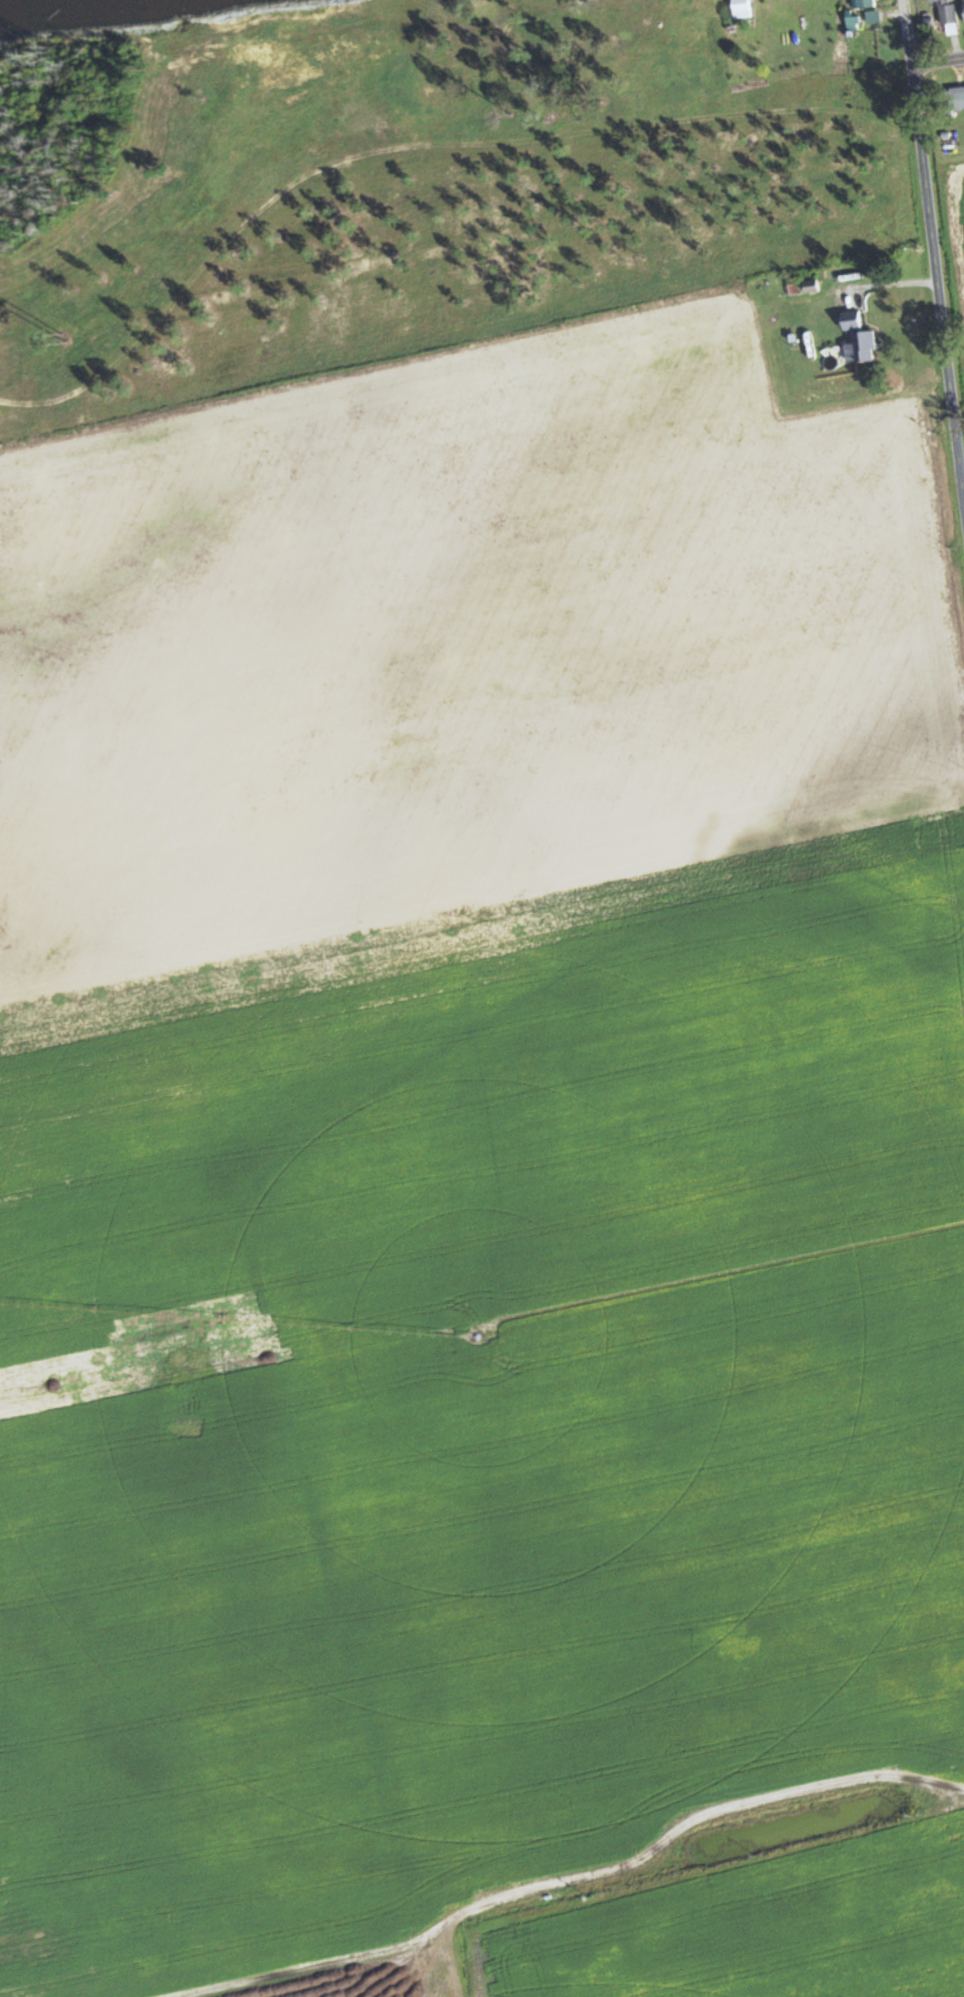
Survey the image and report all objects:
building: (963, 1)
building: (863, 3)
building: (741, 9)
building: (691, 11)
building: (947, 11)
building: (465, 55)
road: (938, 61)
building: (418, 88)
building: (533, 99)
building: (958, 100)
road: (413, 146)
crop: (954, 225)
road: (933, 249)
building: (858, 342)
crop: (483, 1186)

